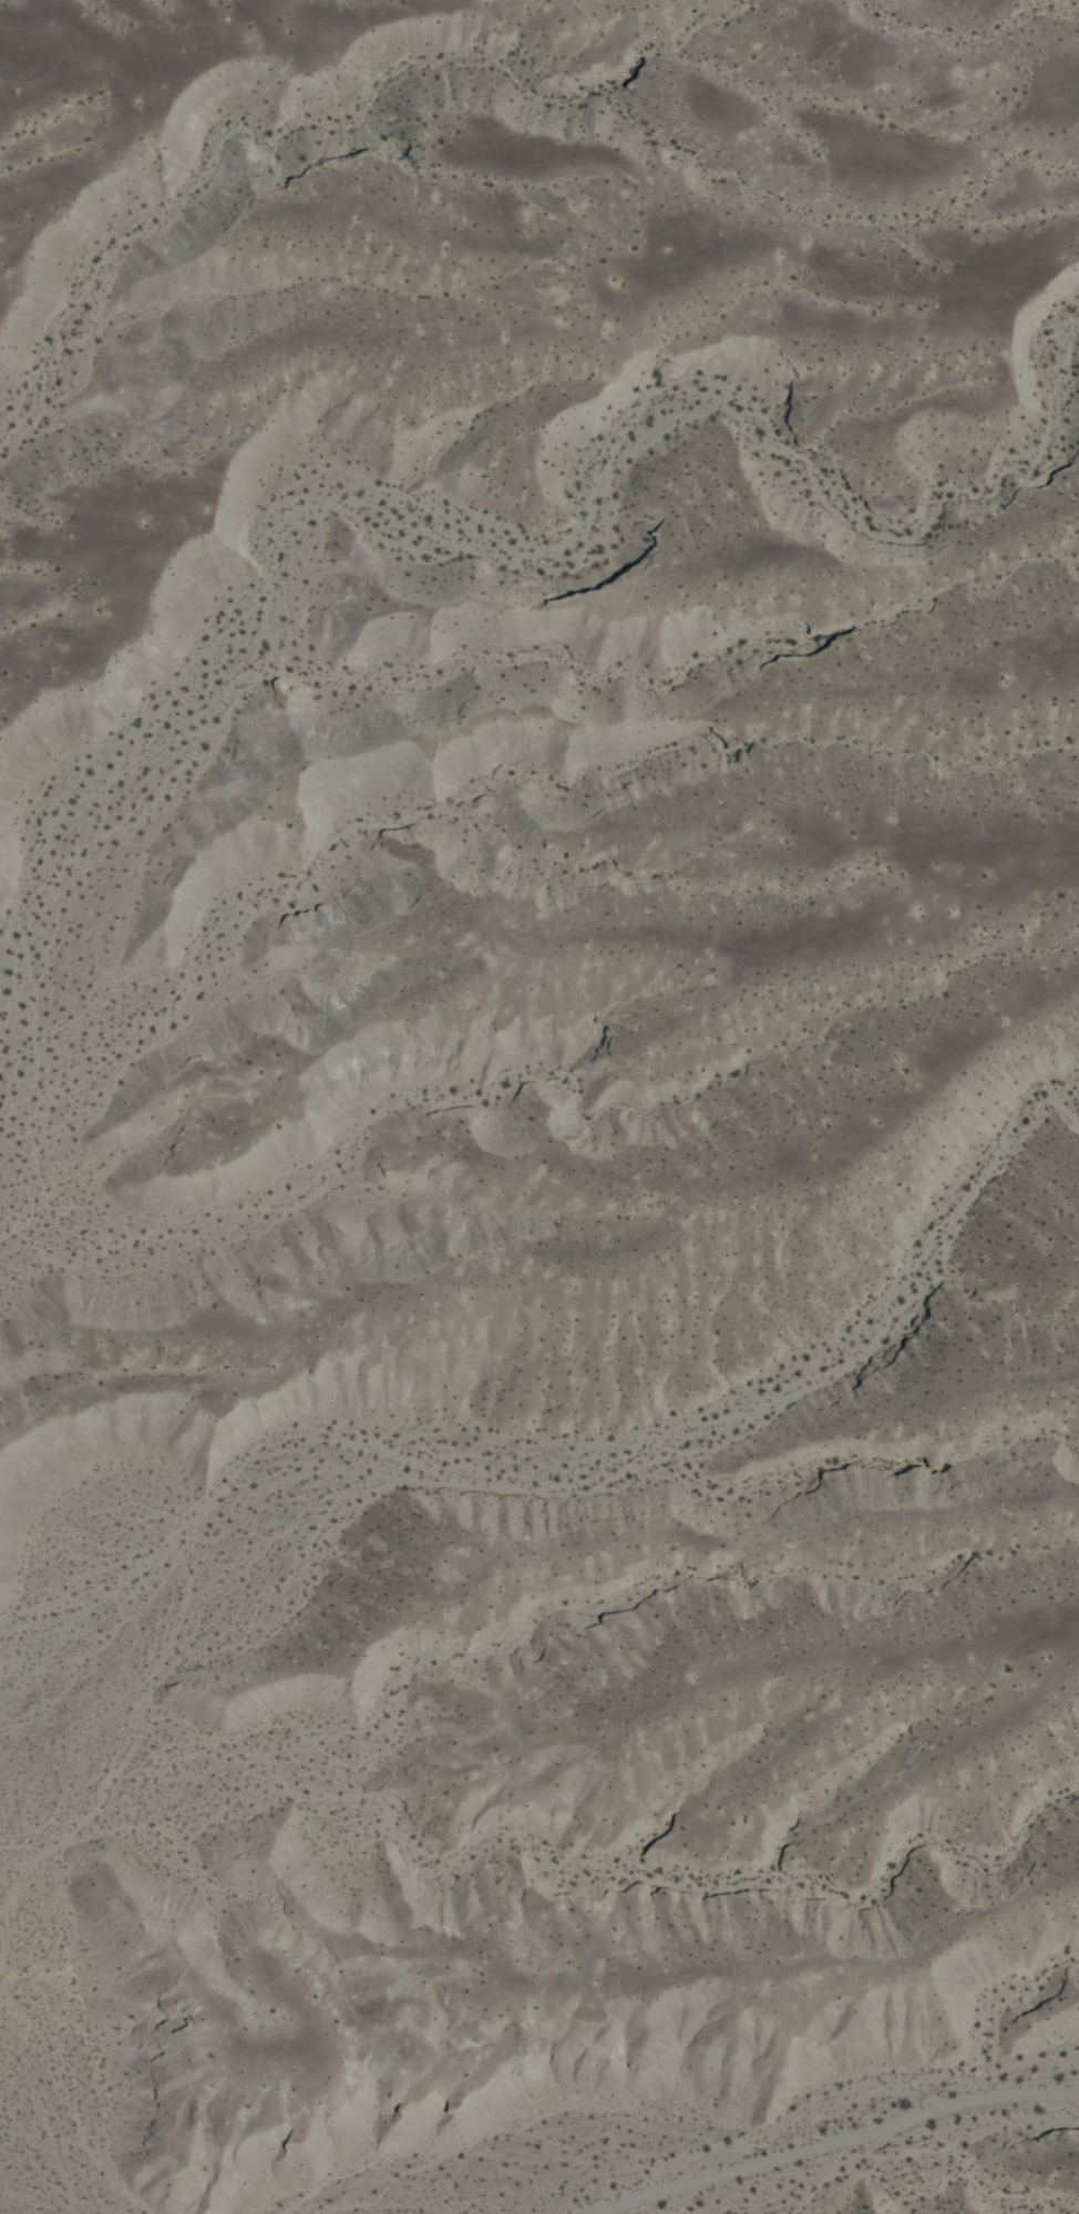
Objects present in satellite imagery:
road: (60, 2068)
road: (837, 2141)

